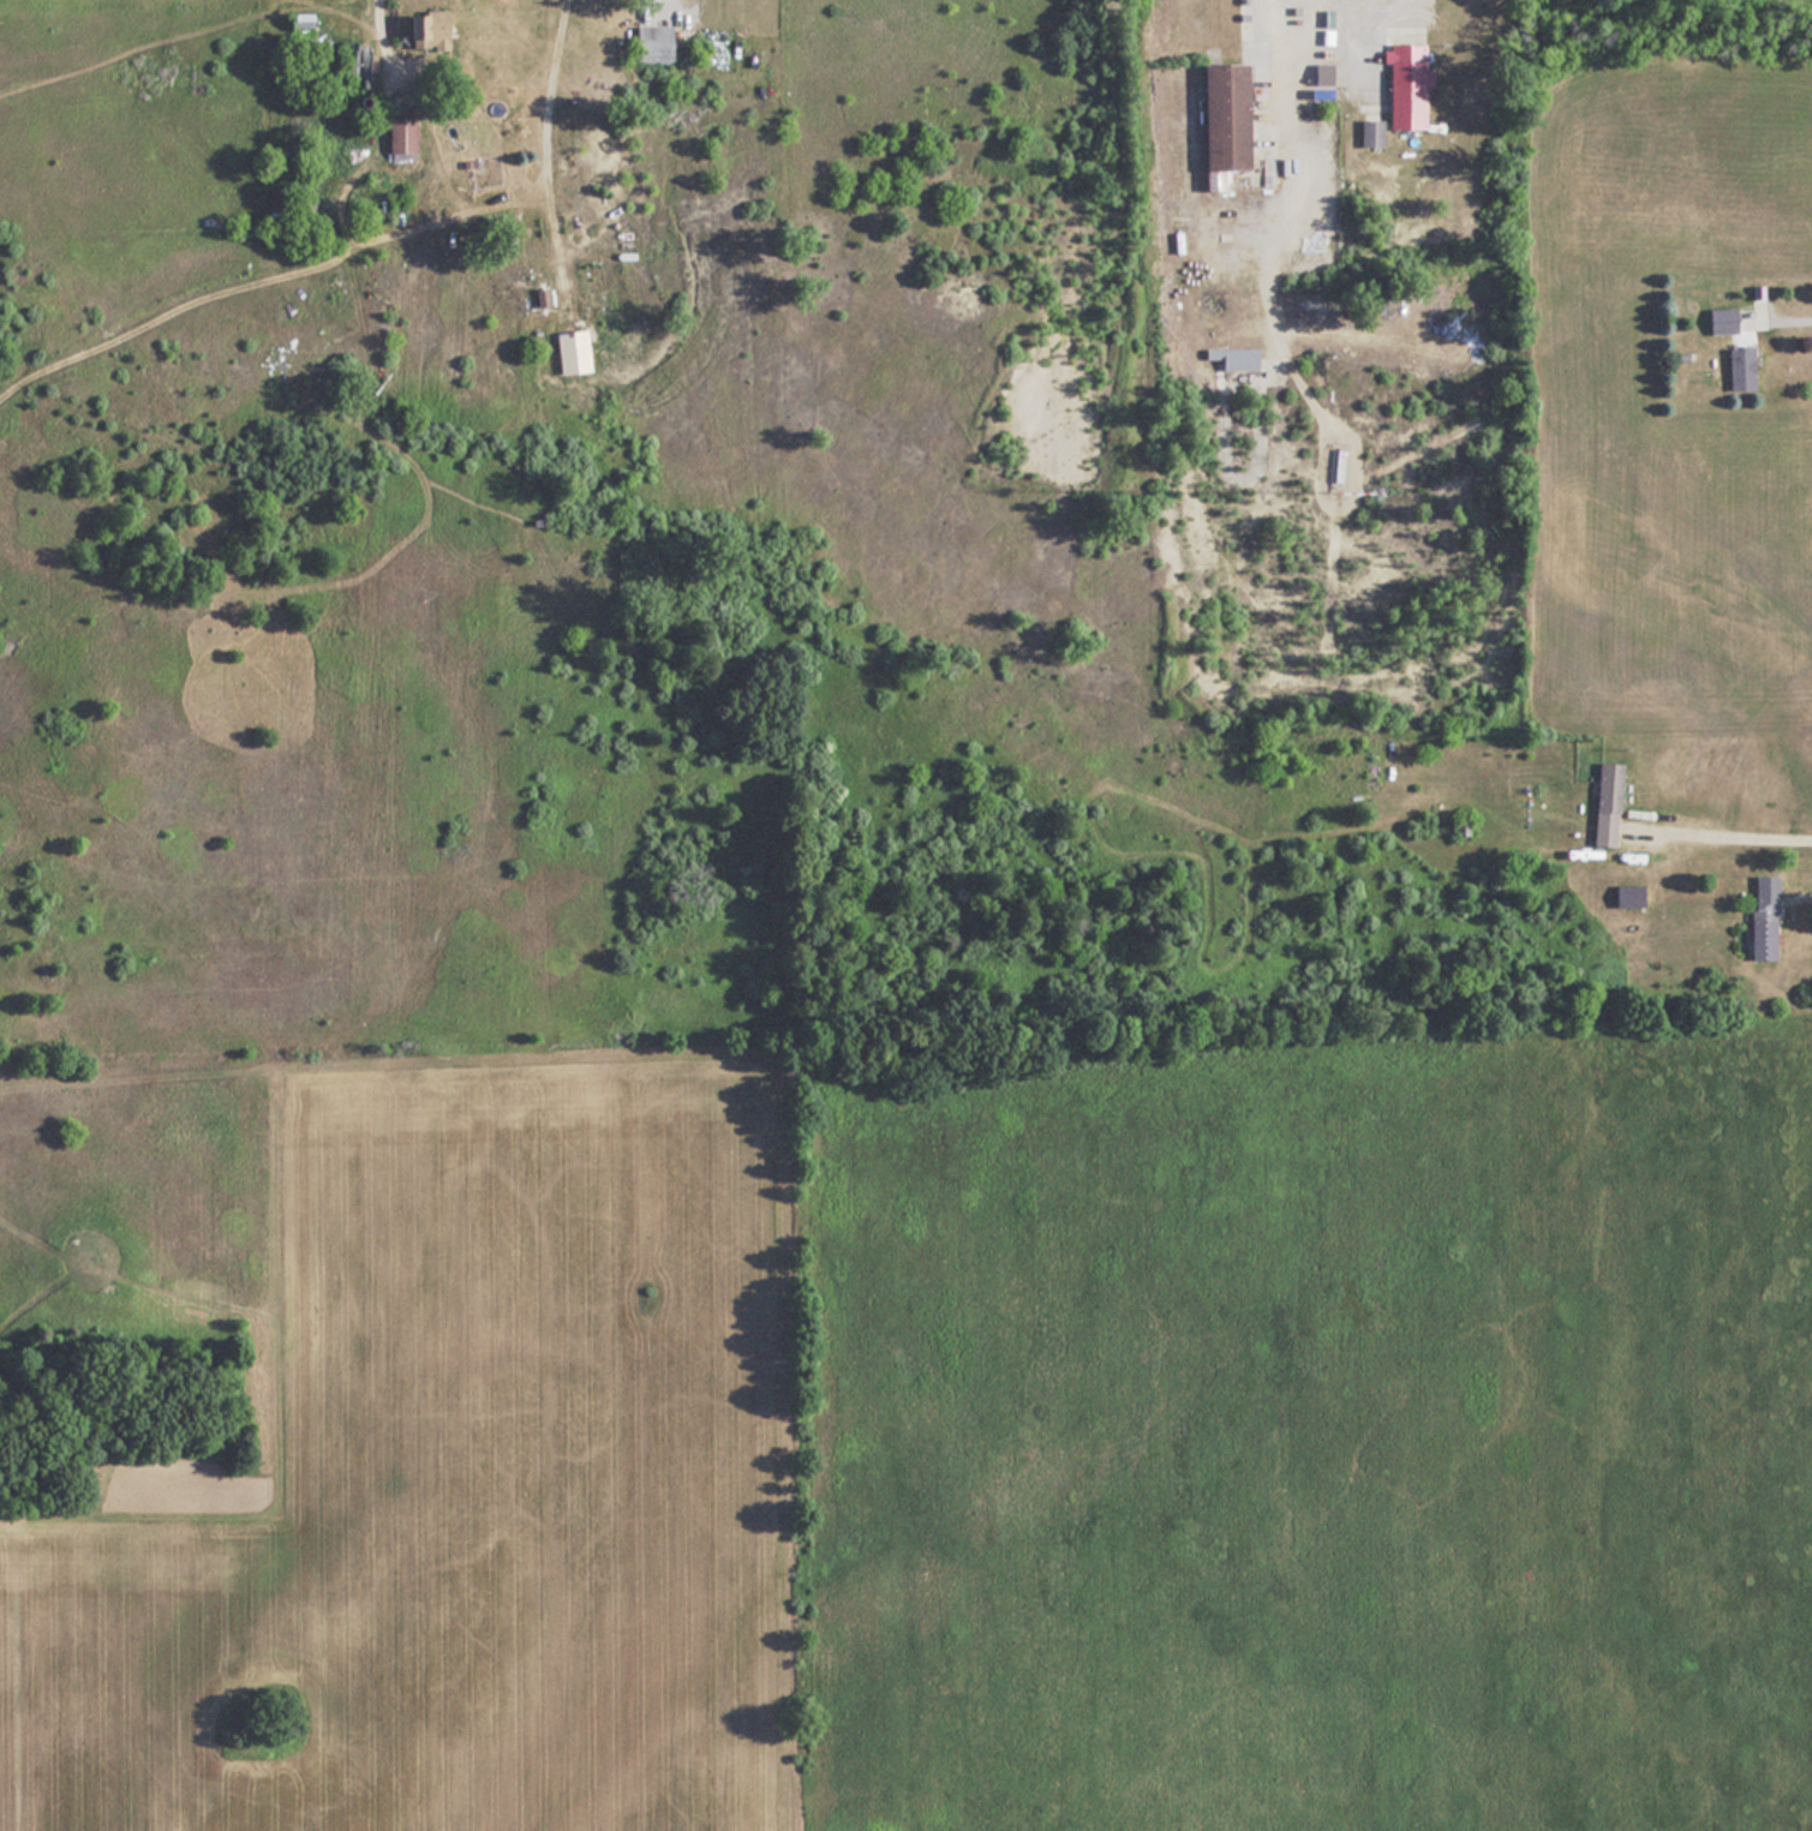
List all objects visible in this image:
road: (1334, 0)
building: (423, 30)
building: (648, 43)
building: (352, 65)
building: (1403, 85)
building: (1218, 120)
road: (544, 133)
building: (397, 138)
building: (1718, 319)
road: (1782, 319)
building: (569, 342)
building: (1231, 357)
building: (1738, 369)
building: (1602, 803)
building: (1759, 917)

